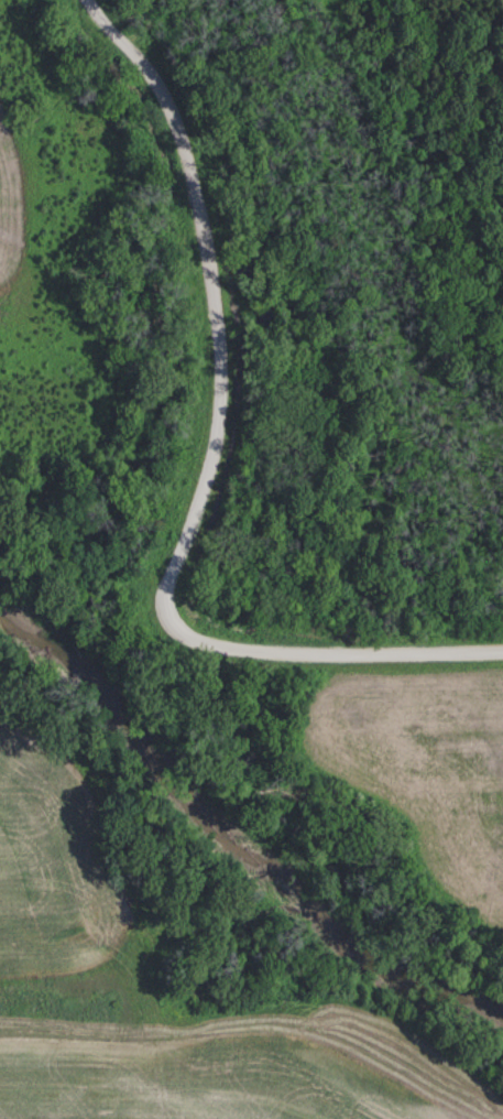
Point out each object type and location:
road: (204, 315)
road: (248, 650)

